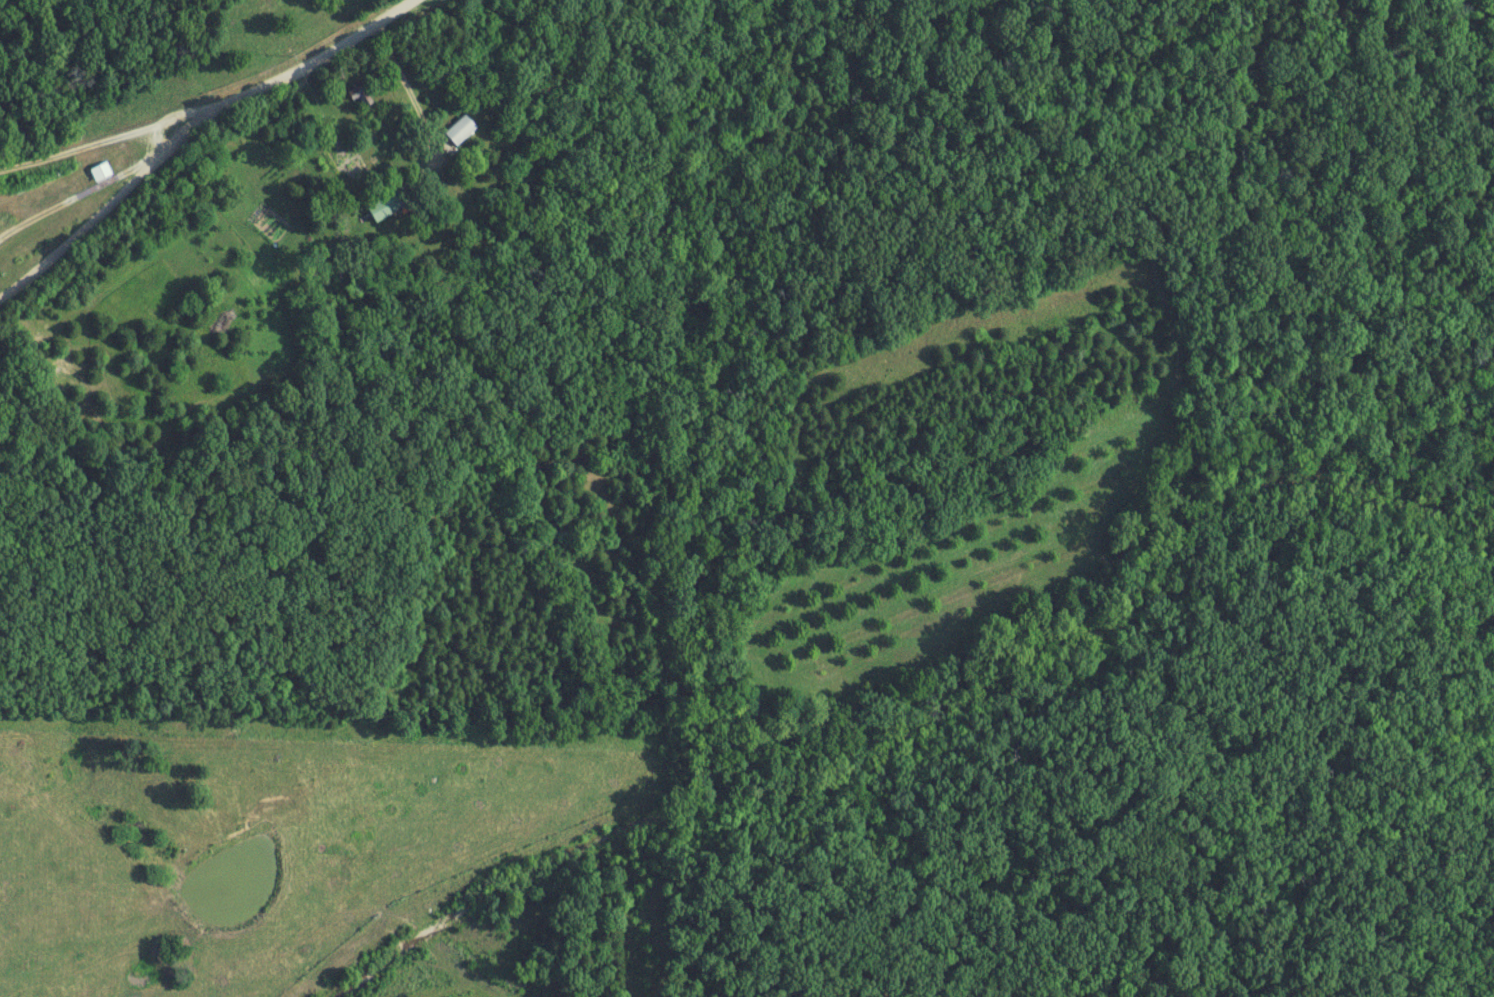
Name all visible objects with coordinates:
road: (407, 87)
road: (207, 103)
building: (461, 131)
building: (102, 172)
building: (391, 205)
road: (104, 210)

